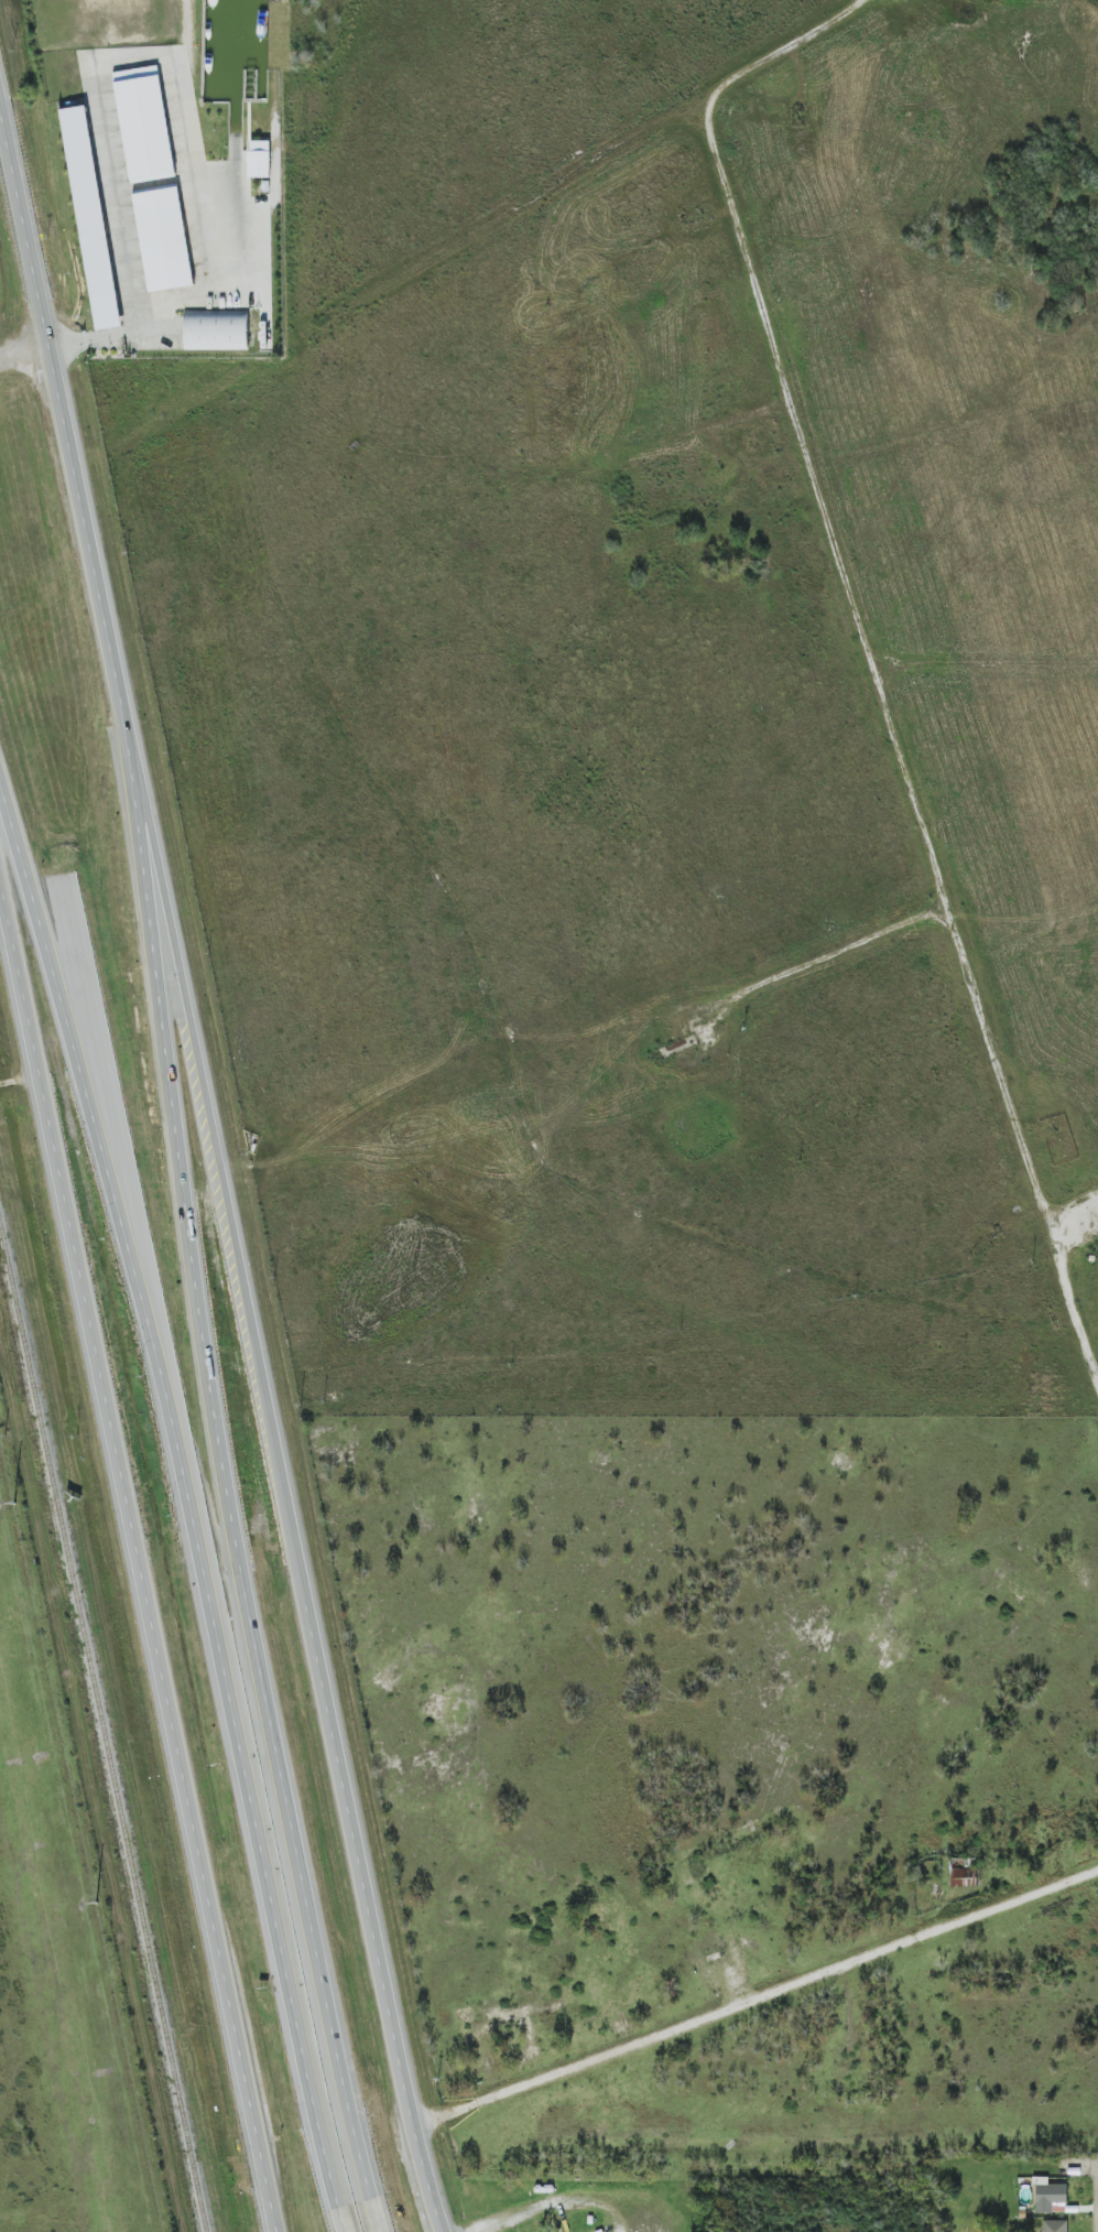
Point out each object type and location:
building: (144, 124)
building: (259, 164)
building: (90, 217)
building: (163, 238)
building: (216, 329)
road: (111, 334)
road: (24, 351)
road: (54, 370)
road: (80, 1060)
road: (998, 1069)
road: (178, 1107)
road: (1065, 1280)
road: (276, 1437)
power tower: (15, 1504)
road: (140, 1550)
railway: (104, 1729)
road: (247, 1789)
power tower: (98, 1904)
road: (304, 1904)
road: (758, 2000)
building: (1050, 2197)
building: (1055, 2225)

